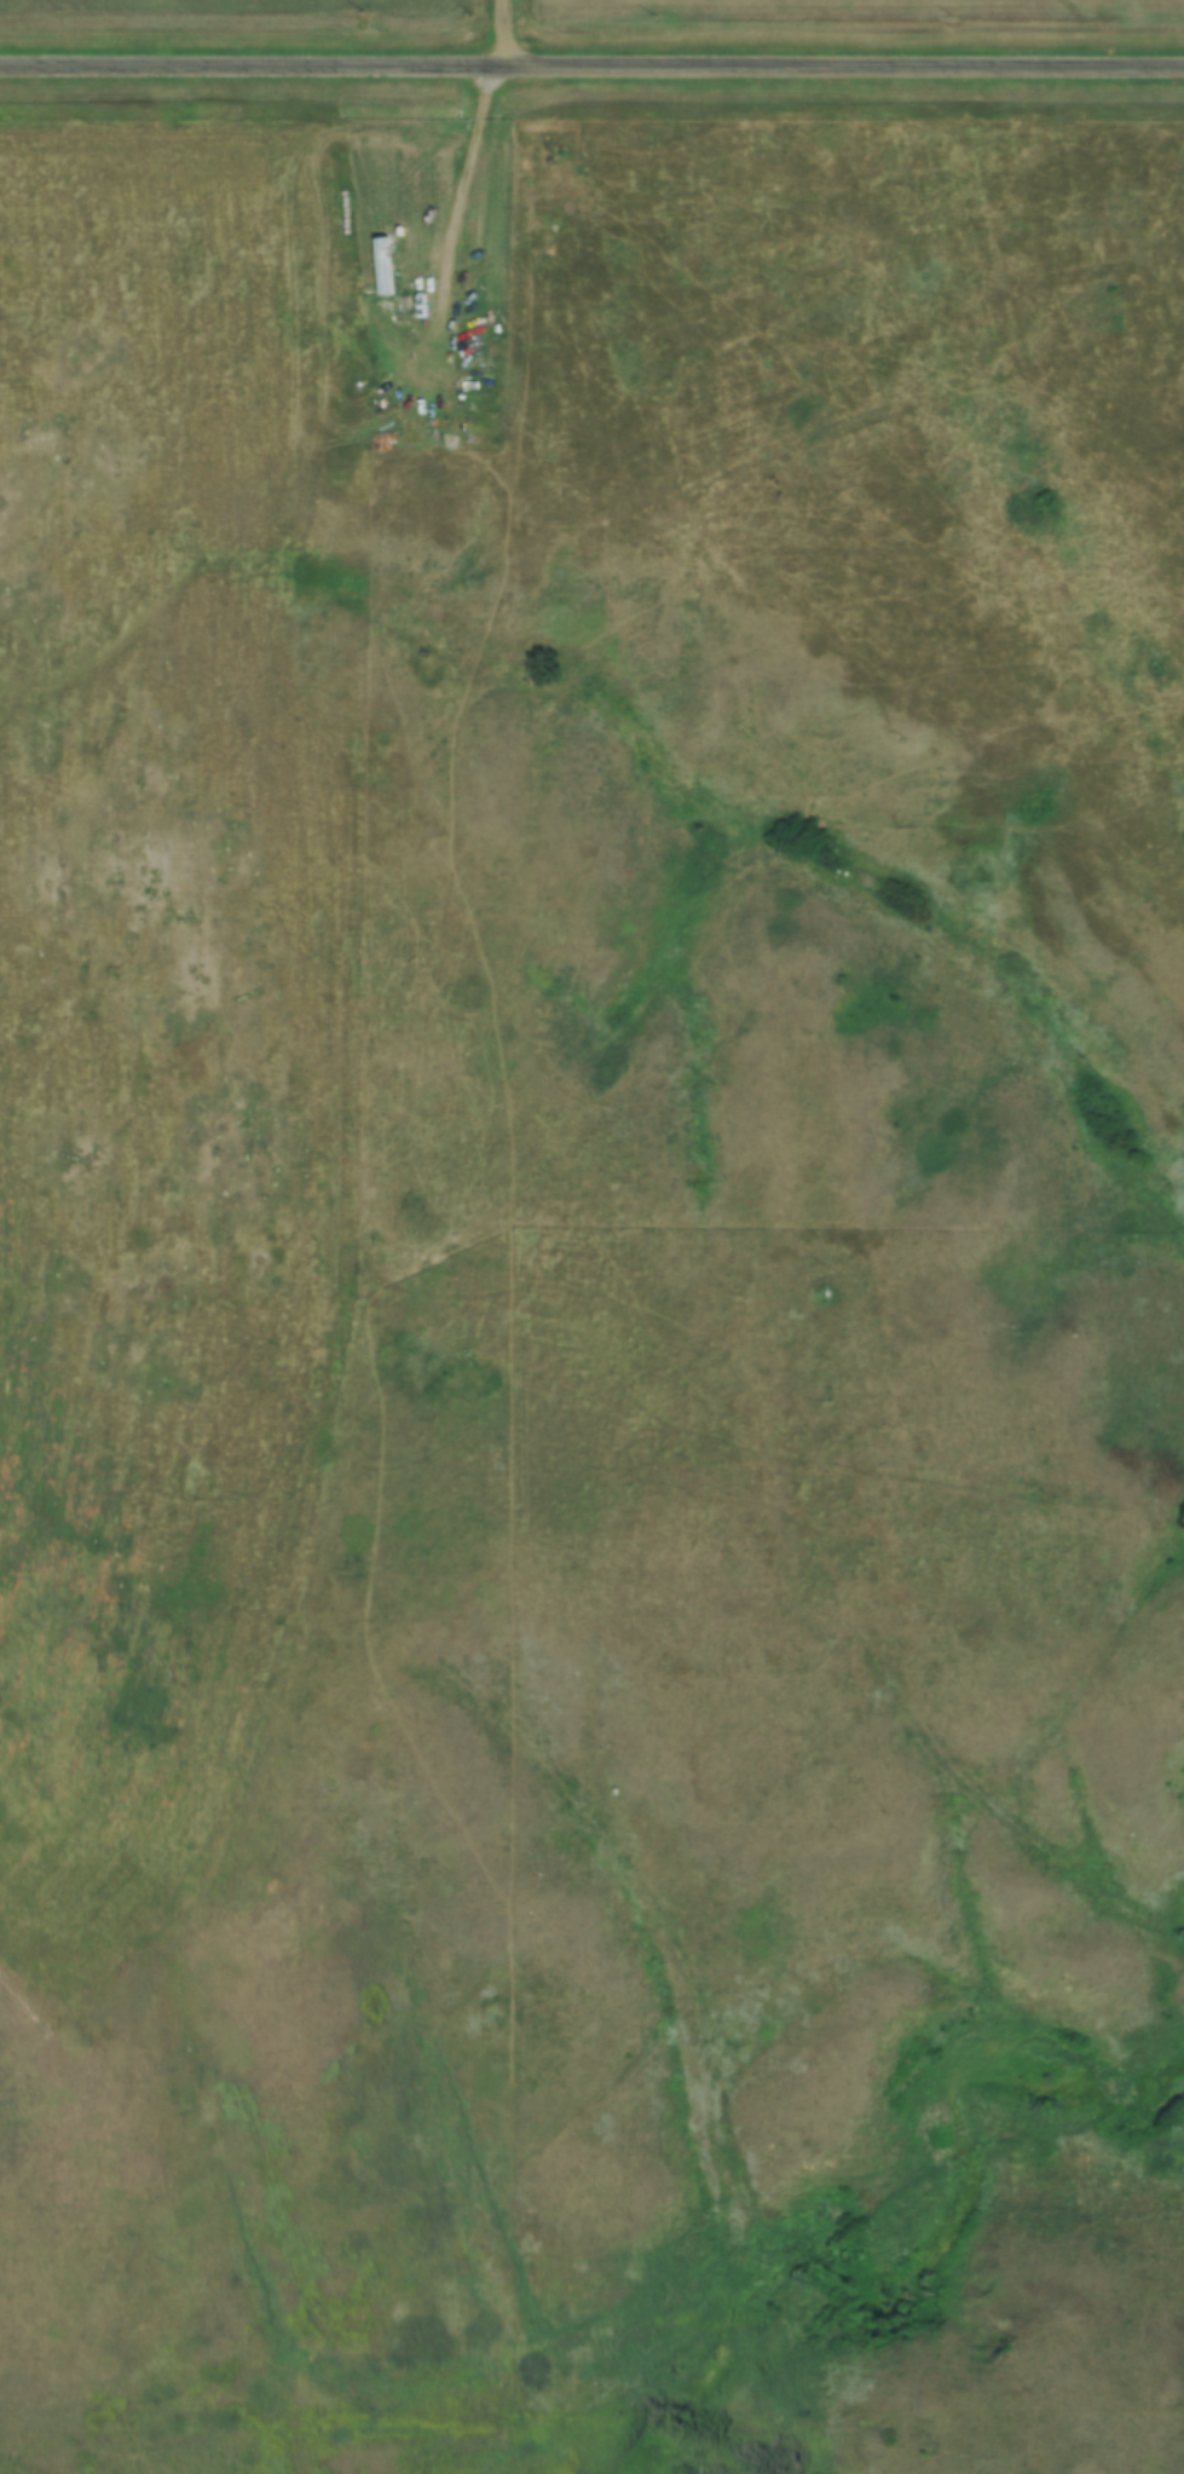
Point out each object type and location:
crop: (242, 22)
road: (507, 33)
road: (591, 64)
road: (469, 250)

